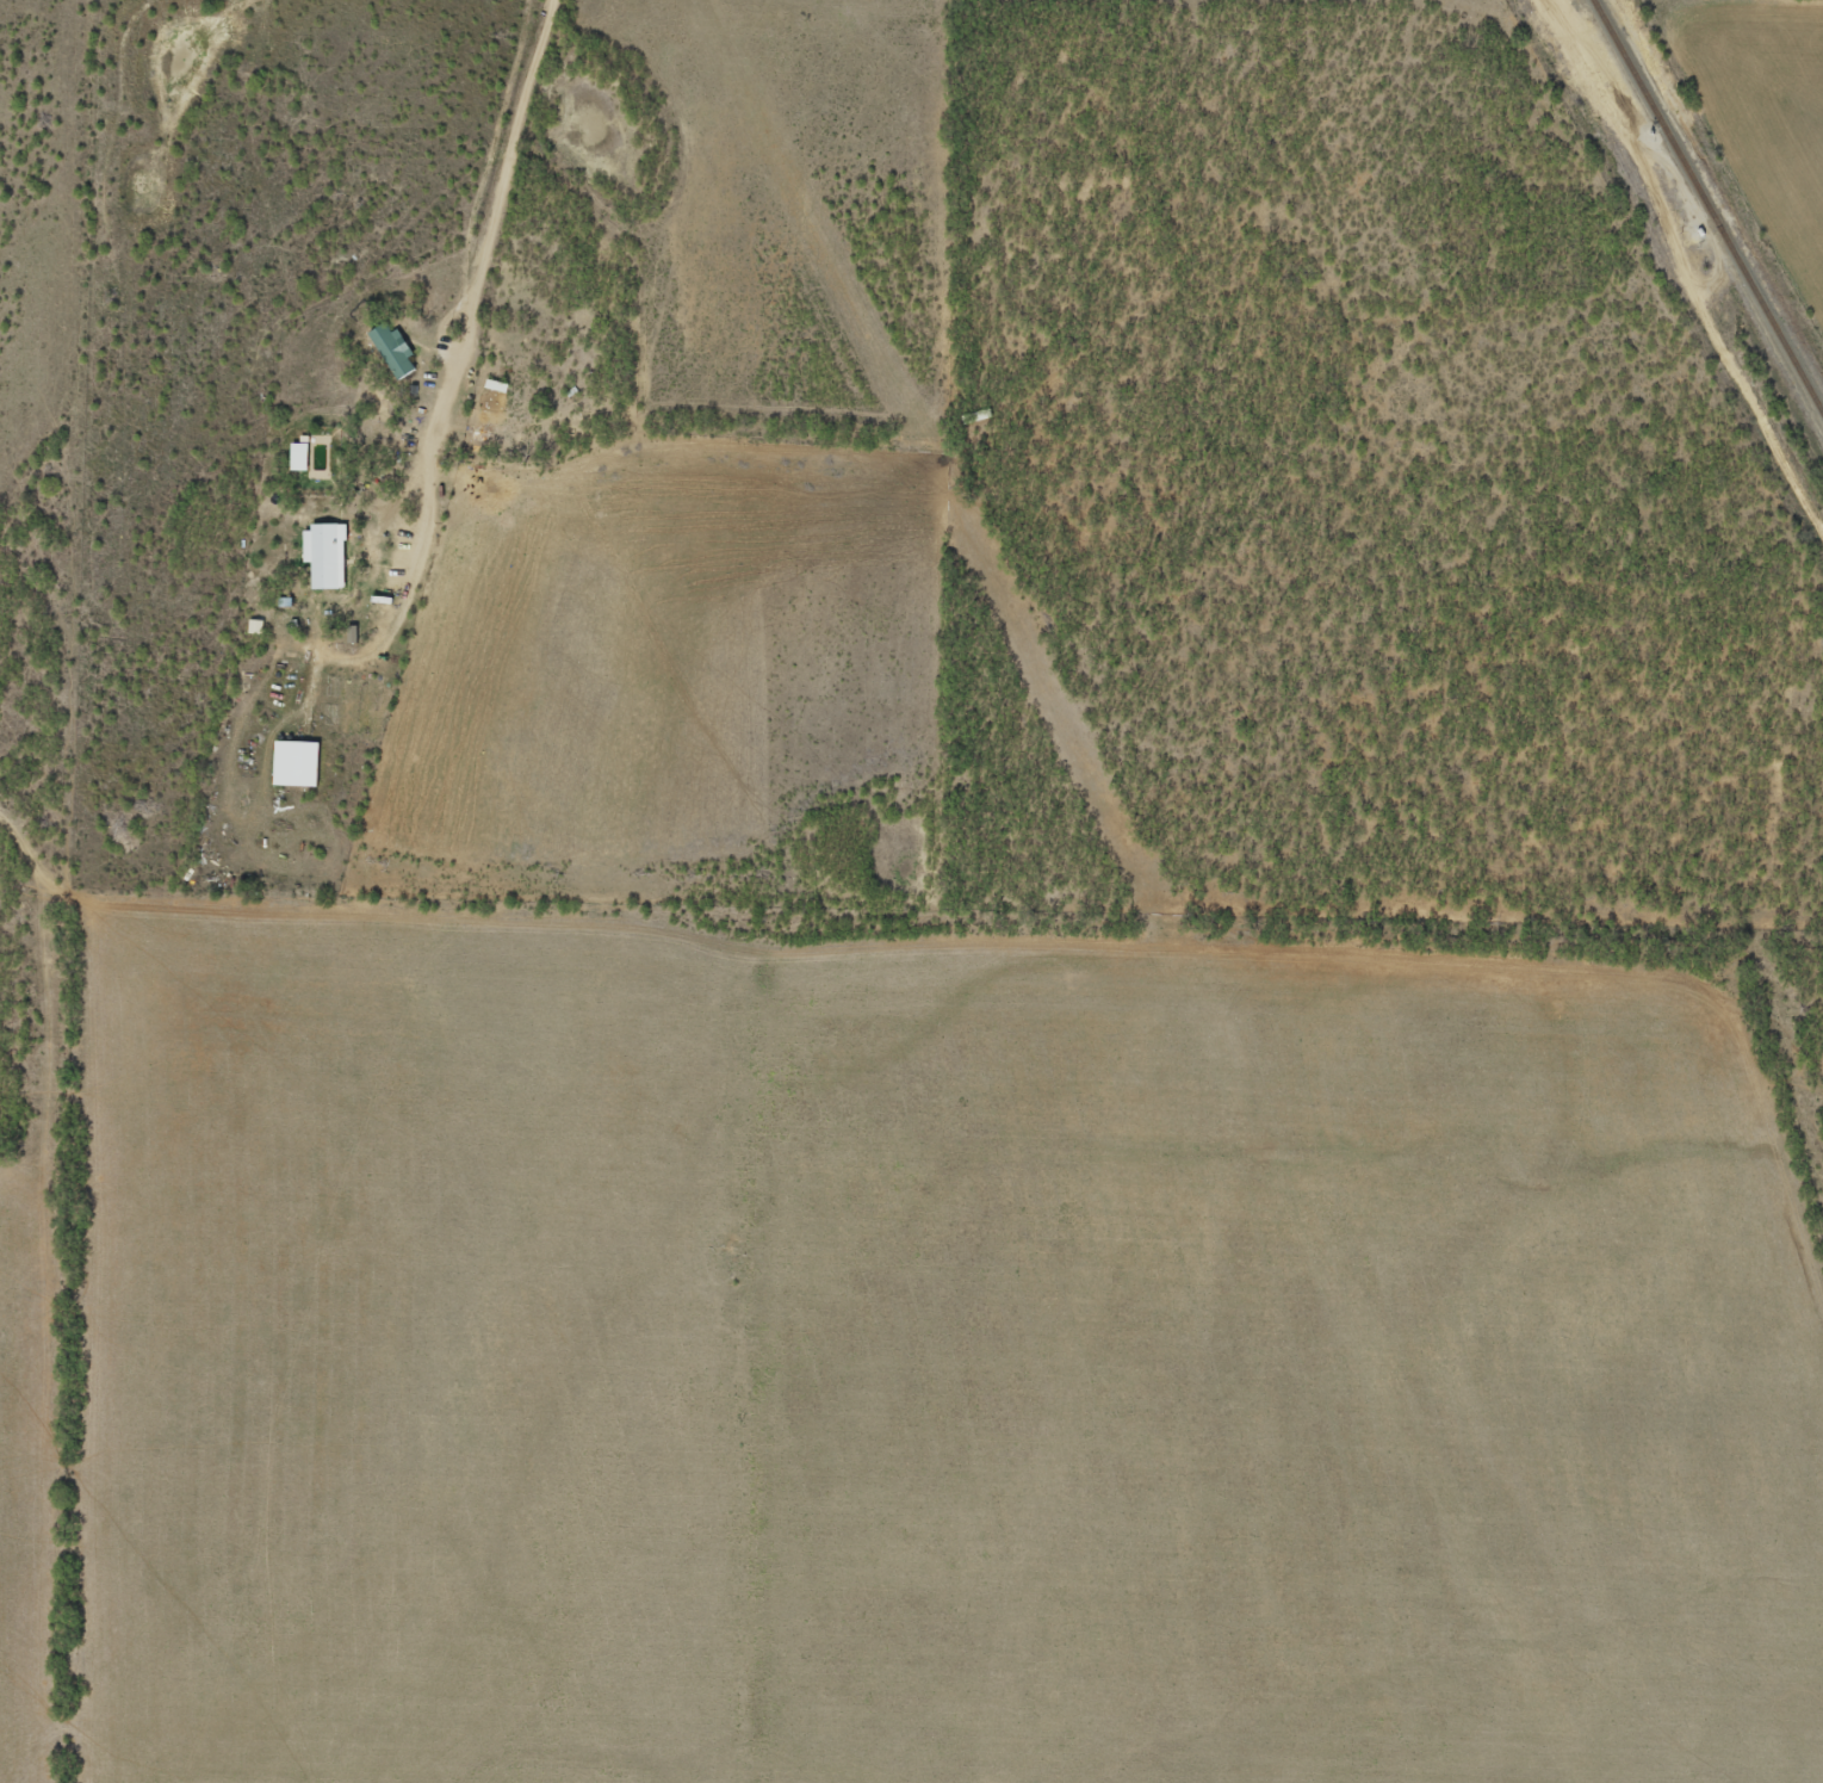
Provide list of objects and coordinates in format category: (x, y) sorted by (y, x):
road: (452, 11)
railway: (1706, 210)
road: (498, 321)
road: (1661, 342)
building: (390, 348)
building: (296, 454)
building: (323, 555)
building: (292, 763)

